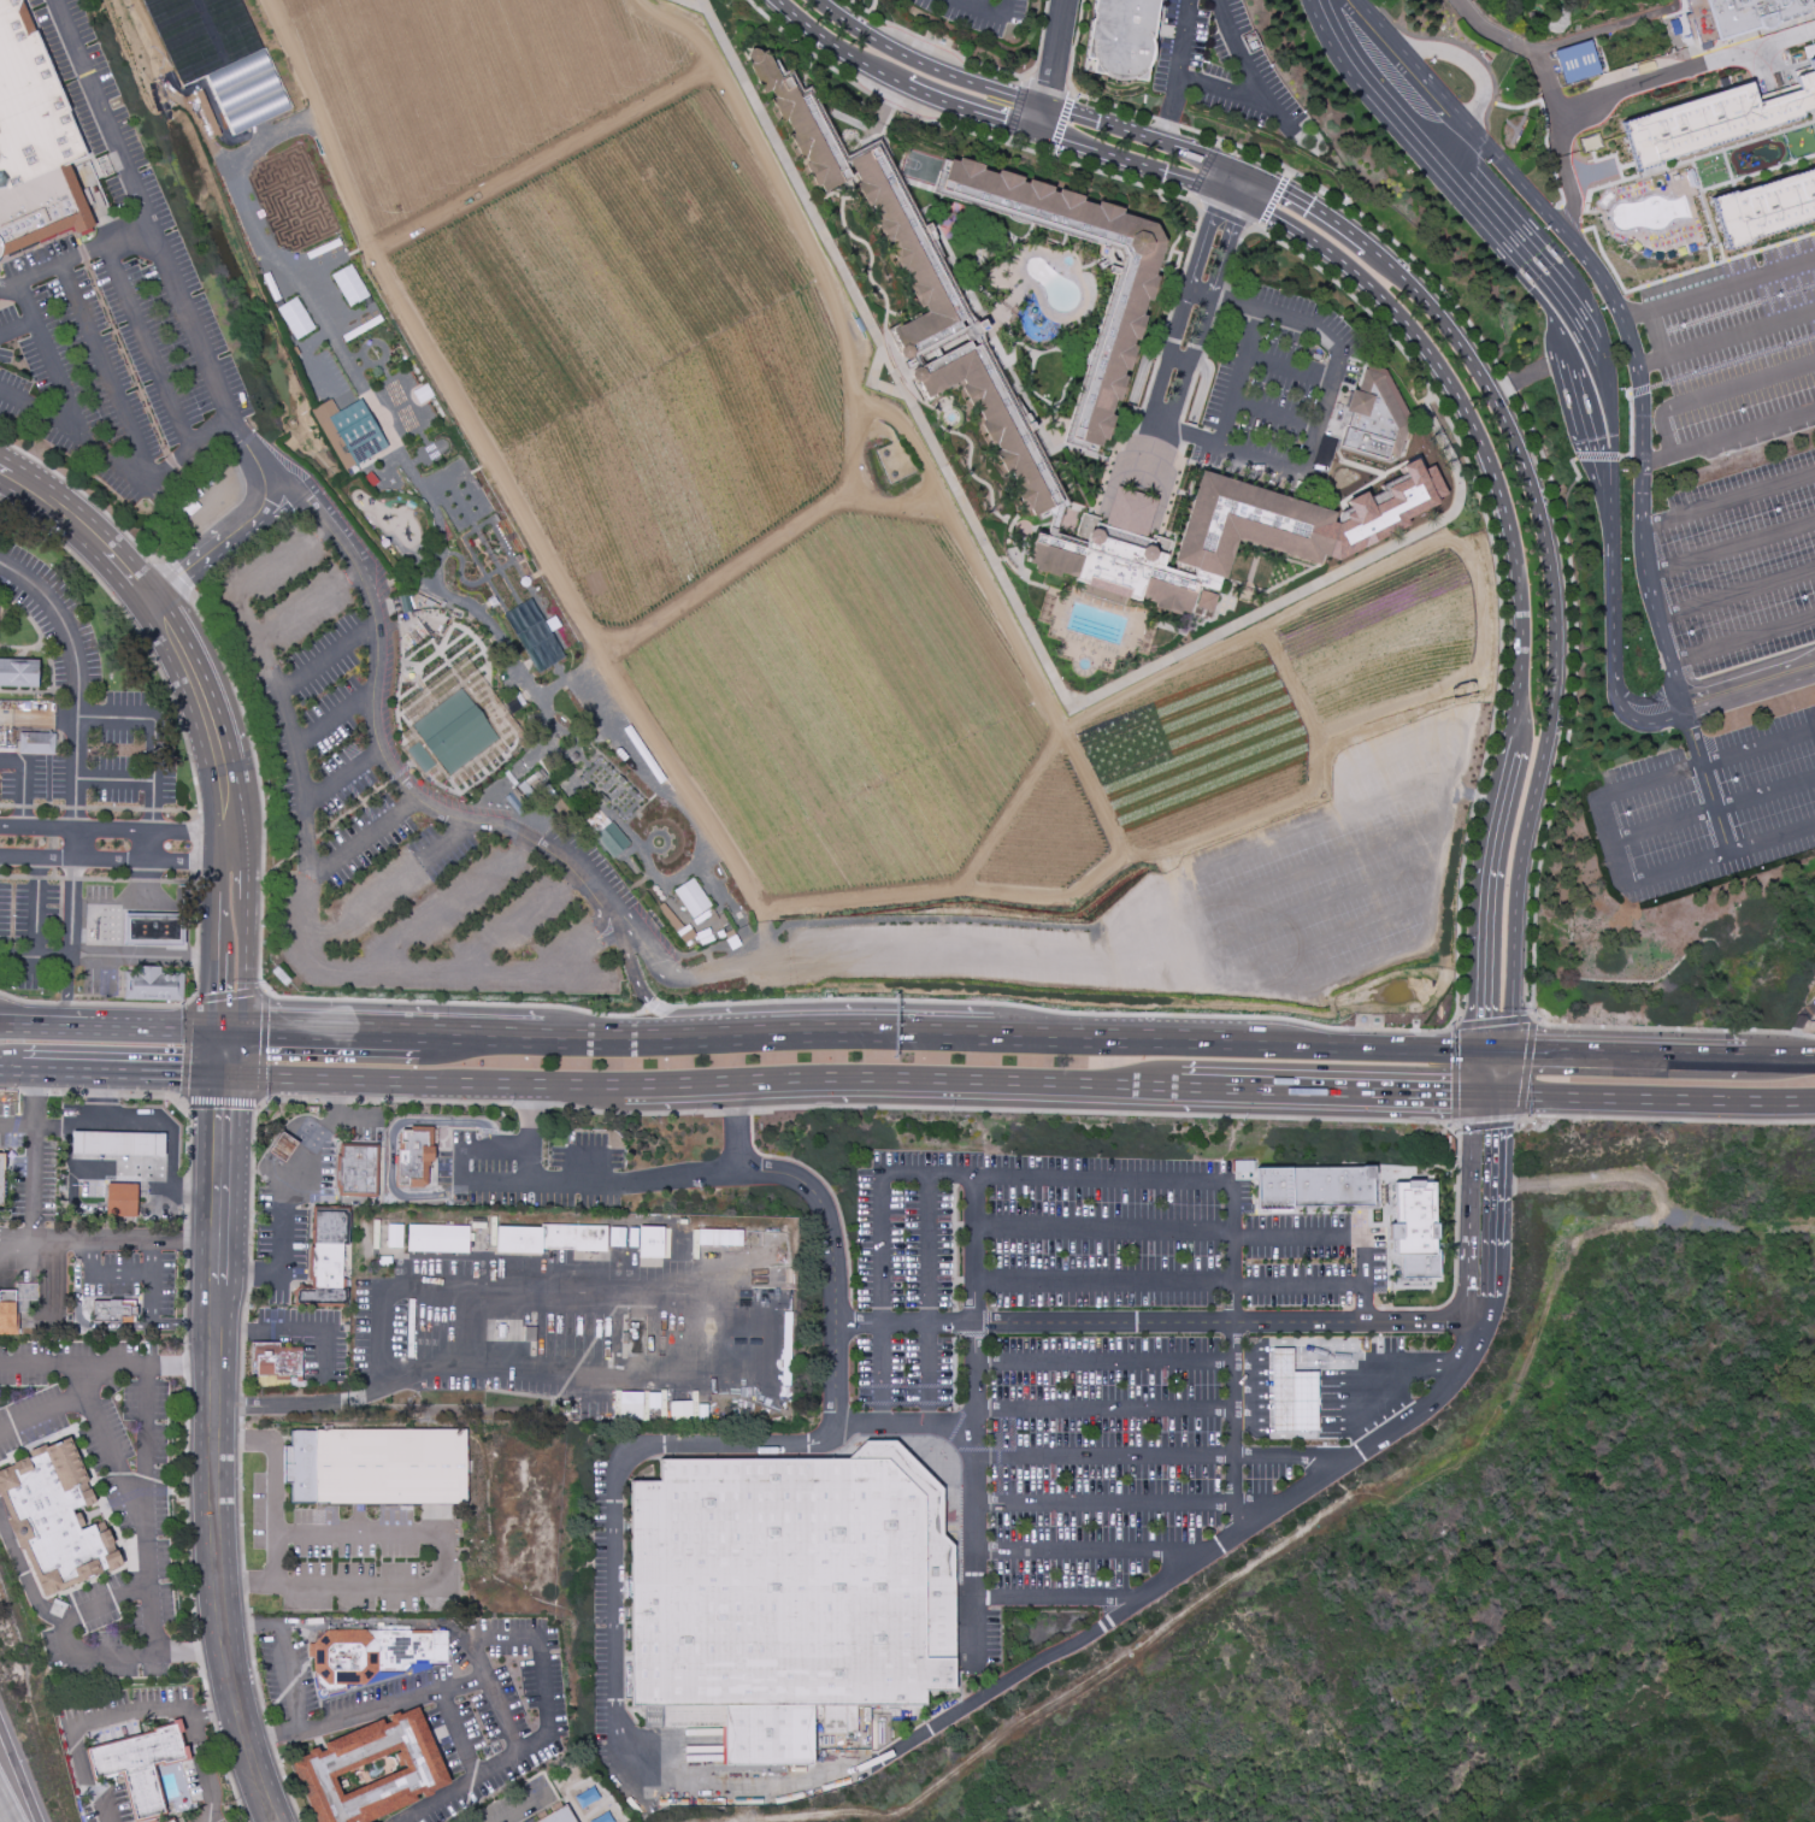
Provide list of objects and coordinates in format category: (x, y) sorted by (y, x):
road: (693, 5)
road: (983, 8)
road: (1003, 8)
building: (1740, 16)
theme park: (1577, 34)
building: (1120, 40)
road: (1445, 41)
road: (1560, 45)
road: (1073, 47)
road: (1239, 58)
road: (971, 61)
building: (1575, 63)
road: (925, 64)
road: (1051, 65)
road: (1657, 67)
road: (1474, 70)
road: (1175, 71)
road: (1025, 77)
road: (1661, 78)
road: (898, 82)
road: (1544, 82)
road: (1357, 86)
crop: (467, 87)
road: (1048, 87)
road: (1219, 89)
building: (247, 93)
road: (1112, 106)
building: (210, 110)
road: (1016, 111)
road: (1486, 116)
building: (1713, 119)
building: (800, 122)
road: (1166, 123)
road: (1061, 125)
building: (34, 141)
road: (1751, 141)
road: (1548, 157)
road: (1673, 165)
road: (1726, 166)
road: (1094, 170)
road: (1566, 171)
road: (1757, 172)
road: (844, 187)
building: (89, 189)
road: (829, 195)
building: (1764, 207)
road: (1224, 216)
road: (1023, 220)
road: (1569, 220)
road: (933, 224)
road: (1015, 250)
road: (1030, 255)
road: (76, 258)
building: (908, 258)
road: (1083, 269)
toll booth: (1540, 269)
road: (1678, 276)
road: (870, 279)
building: (348, 284)
road: (1716, 289)
road: (1186, 293)
road: (1219, 300)
road: (1019, 302)
road: (1208, 302)
parking lot: (122, 305)
road: (1740, 307)
building: (1122, 308)
road: (1613, 309)
building: (294, 318)
road: (193, 325)
road: (17, 329)
road: (1412, 331)
road: (1656, 332)
road: (1725, 335)
road: (1066, 340)
road: (146, 348)
crop: (644, 352)
road: (49, 360)
road: (1177, 360)
road: (1076, 365)
road: (1287, 365)
road: (1336, 365)
road: (1721, 365)
road: (107, 375)
road: (1234, 376)
road: (871, 383)
parking lot: (1279, 391)
road: (1575, 391)
road: (1716, 393)
road: (1029, 406)
road: (1273, 412)
building: (1375, 417)
building: (991, 419)
building: (349, 431)
road: (1611, 431)
road: (1185, 434)
road: (1728, 435)
road: (1153, 448)
road: (1519, 453)
parking lot: (1733, 453)
road: (1257, 459)
road: (1614, 459)
road: (968, 461)
road: (406, 465)
road: (123, 466)
road: (1221, 472)
road: (1115, 473)
road: (1574, 483)
road: (1166, 494)
road: (88, 497)
road: (1727, 500)
building: (1386, 507)
building: (1248, 525)
road: (1339, 537)
road: (1729, 549)
building: (1115, 554)
road: (1267, 554)
road: (996, 561)
road: (1010, 566)
road: (1328, 572)
road: (176, 583)
road: (1278, 585)
road: (1734, 594)
road: (1012, 600)
building: (1206, 602)
road: (307, 606)
road: (1101, 609)
road: (1201, 619)
road: (1574, 624)
road: (40, 635)
road: (139, 635)
road: (1742, 641)
road: (22, 648)
road: (325, 659)
building: (19, 673)
road: (1749, 689)
road: (25, 691)
road: (1643, 701)
road: (208, 714)
building: (496, 717)
road: (143, 719)
road: (332, 719)
building: (454, 732)
building: (35, 743)
building: (420, 756)
parking lot: (79, 773)
road: (341, 778)
road: (23, 779)
road: (75, 779)
road: (1705, 783)
parking lot: (387, 803)
road: (7, 806)
road: (23, 807)
road: (48, 808)
parking lot: (1708, 808)
road: (75, 809)
road: (114, 809)
road: (431, 809)
road: (1710, 809)
road: (152, 810)
road: (179, 810)
road: (55, 813)
road: (114, 826)
road: (54, 827)
road: (1602, 830)
road: (360, 841)
building: (613, 841)
fountain: (658, 842)
road: (54, 843)
road: (149, 843)
road: (196, 850)
road: (54, 859)
road: (116, 863)
road: (53, 873)
road: (304, 875)
road: (14, 877)
road: (37, 878)
road: (54, 879)
road: (72, 879)
road: (106, 880)
road: (145, 881)
road: (178, 881)
road: (1166, 885)
road: (1291, 885)
road: (385, 888)
parking lot: (98, 894)
road: (1486, 896)
road: (449, 906)
road: (36, 908)
parking lot: (1214, 912)
road: (60, 913)
parking lot: (5, 914)
road: (196, 915)
road: (517, 925)
road: (1303, 926)
building: (153, 930)
gas station: (153, 930)
road: (146, 933)
road: (1459, 947)
road: (149, 960)
road: (195, 960)
parking lot: (99, 979)
road: (1262, 979)
road: (261, 981)
building: (153, 985)
road: (641, 990)
road: (66, 993)
road: (29, 1002)
road: (66, 1004)
road: (147, 1006)
road: (650, 1007)
road: (1530, 1016)
road: (33, 1028)
road: (148, 1033)
traffic signals: (230, 1037)
road: (325, 1038)
road: (845, 1040)
road: (482, 1043)
road: (620, 1046)
road: (1112, 1046)
road: (1355, 1052)
road: (229, 1056)
traffic signals: (1480, 1057)
road: (1495, 1057)
traffic signals: (1510, 1057)
road: (1628, 1061)
road: (1763, 1065)
road: (1797, 1065)
road: (11, 1067)
road: (60, 1068)
road: (164, 1072)
traffic signals: (229, 1075)
road: (281, 1075)
road: (1478, 1077)
road: (1508, 1077)
road: (957, 1080)
road: (476, 1081)
road: (678, 1084)
road: (10, 1090)
road: (1327, 1091)
road: (33, 1092)
road: (65, 1092)
road: (98, 1093)
road: (31, 1096)
traffic signals: (1477, 1096)
road: (1491, 1096)
road: (99, 1097)
traffic signals: (1505, 1097)
road: (260, 1098)
road: (331, 1099)
road: (1660, 1099)
road: (425, 1102)
road: (525, 1103)
road: (184, 1104)
road: (737, 1113)
road: (1104, 1113)
road: (631, 1114)
road: (1667, 1118)
road: (506, 1121)
road: (16, 1122)
road: (358, 1122)
road: (137, 1125)
road: (737, 1127)
road: (460, 1130)
road: (489, 1132)
road: (390, 1134)
building: (117, 1143)
building: (283, 1148)
gas station: (283, 1148)
road: (253, 1150)
building: (414, 1155)
gas station: (117, 1162)
parking lot: (30, 1163)
road: (101, 1164)
building: (1243, 1167)
road: (460, 1169)
road: (295, 1171)
building: (356, 1171)
parking lot: (531, 1171)
building: (0, 1174)
road: (1499, 1174)
road: (956, 1177)
road: (224, 1180)
road: (30, 1181)
road: (806, 1185)
road: (1522, 1185)
building: (1333, 1186)
building: (1273, 1190)
road: (185, 1191)
road: (201, 1193)
parking lot: (302, 1196)
building: (120, 1199)
road: (1468, 1209)
road: (185, 1216)
road: (1731, 1227)
road: (1104, 1230)
building: (1415, 1230)
building: (376, 1236)
building: (394, 1237)
road: (185, 1238)
building: (574, 1238)
building: (617, 1238)
building: (632, 1238)
building: (720, 1238)
road: (1340, 1238)
road: (11, 1239)
road: (81, 1239)
building: (438, 1239)
building: (519, 1240)
building: (650, 1243)
road: (954, 1248)
building: (344, 1257)
building: (326, 1258)
building: (383, 1262)
road: (104, 1274)
road: (249, 1274)
road: (252, 1274)
parking lot: (14, 1278)
road: (151, 1278)
parking lot: (131, 1279)
road: (184, 1283)
road: (1104, 1283)
road: (414, 1285)
road: (1298, 1286)
road: (648, 1287)
road: (1422, 1289)
road: (1491, 1290)
road: (927, 1301)
road: (244, 1304)
building: (112, 1310)
building: (8, 1314)
road: (78, 1316)
road: (1154, 1323)
road: (184, 1325)
road: (953, 1327)
road: (231, 1328)
road: (308, 1331)
road: (243, 1332)
road: (217, 1334)
building: (530, 1334)
road: (978, 1334)
building: (1249, 1340)
parking lot: (306, 1342)
road: (184, 1343)
parking lot: (1384, 1344)
road: (1312, 1355)
building: (276, 1362)
parking lot: (1094, 1362)
road: (1104, 1362)
road: (481, 1363)
road: (182, 1366)
road: (1414, 1367)
road: (185, 1368)
road: (242, 1369)
road: (953, 1373)
road: (146, 1374)
road: (78, 1379)
road: (1304, 1379)
road: (1234, 1384)
road: (904, 1387)
road: (976, 1390)
building: (1291, 1396)
gas station: (1291, 1396)
building: (650, 1401)
road: (1306, 1402)
road: (904, 1404)
building: (630, 1407)
road: (956, 1408)
road: (241, 1409)
building: (679, 1409)
road: (1106, 1410)
road: (1385, 1410)
road: (93, 1423)
road: (241, 1426)
road: (1313, 1426)
road: (955, 1427)
road: (1000, 1435)
road: (240, 1441)
road: (950, 1447)
road: (997, 1451)
road: (1166, 1457)
building: (375, 1468)
road: (1327, 1478)
road: (1131, 1504)
parking lot: (139, 1508)
road: (185, 1511)
road: (240, 1511)
building: (54, 1519)
road: (1312, 1527)
road: (420, 1528)
road: (1094, 1552)
road: (272, 1555)
parking lot: (353, 1556)
road: (24, 1576)
road: (244, 1582)
building: (790, 1593)
road: (1060, 1600)
road: (246, 1605)
road: (219, 1606)
road: (79, 1615)
road: (152, 1620)
road: (978, 1623)
road: (248, 1628)
road: (531, 1637)
parking lot: (605, 1645)
road: (282, 1650)
road: (189, 1653)
road: (199, 1653)
building: (371, 1655)
road: (204, 1681)
road: (461, 1682)
road: (255, 1684)
road: (431, 1693)
road: (213, 1705)
parking lot: (440, 1705)
road: (210, 1710)
building: (817, 1714)
building: (691, 1716)
building: (832, 1720)
building: (849, 1720)
road: (83, 1724)
road: (270, 1738)
parking lot: (201, 1755)
road: (650, 1763)
road: (205, 1765)
building: (326, 1765)
building: (139, 1767)
road: (19, 1774)
road: (228, 1774)
road: (287, 1786)
road: (94, 1789)
parking lot: (518, 1804)
road: (79, 1809)
road: (525, 1809)
road: (4, 1812)
building: (558, 1816)
building: (170, 1821)
building: (172, 1821)
parking lot: (464, 1821)

